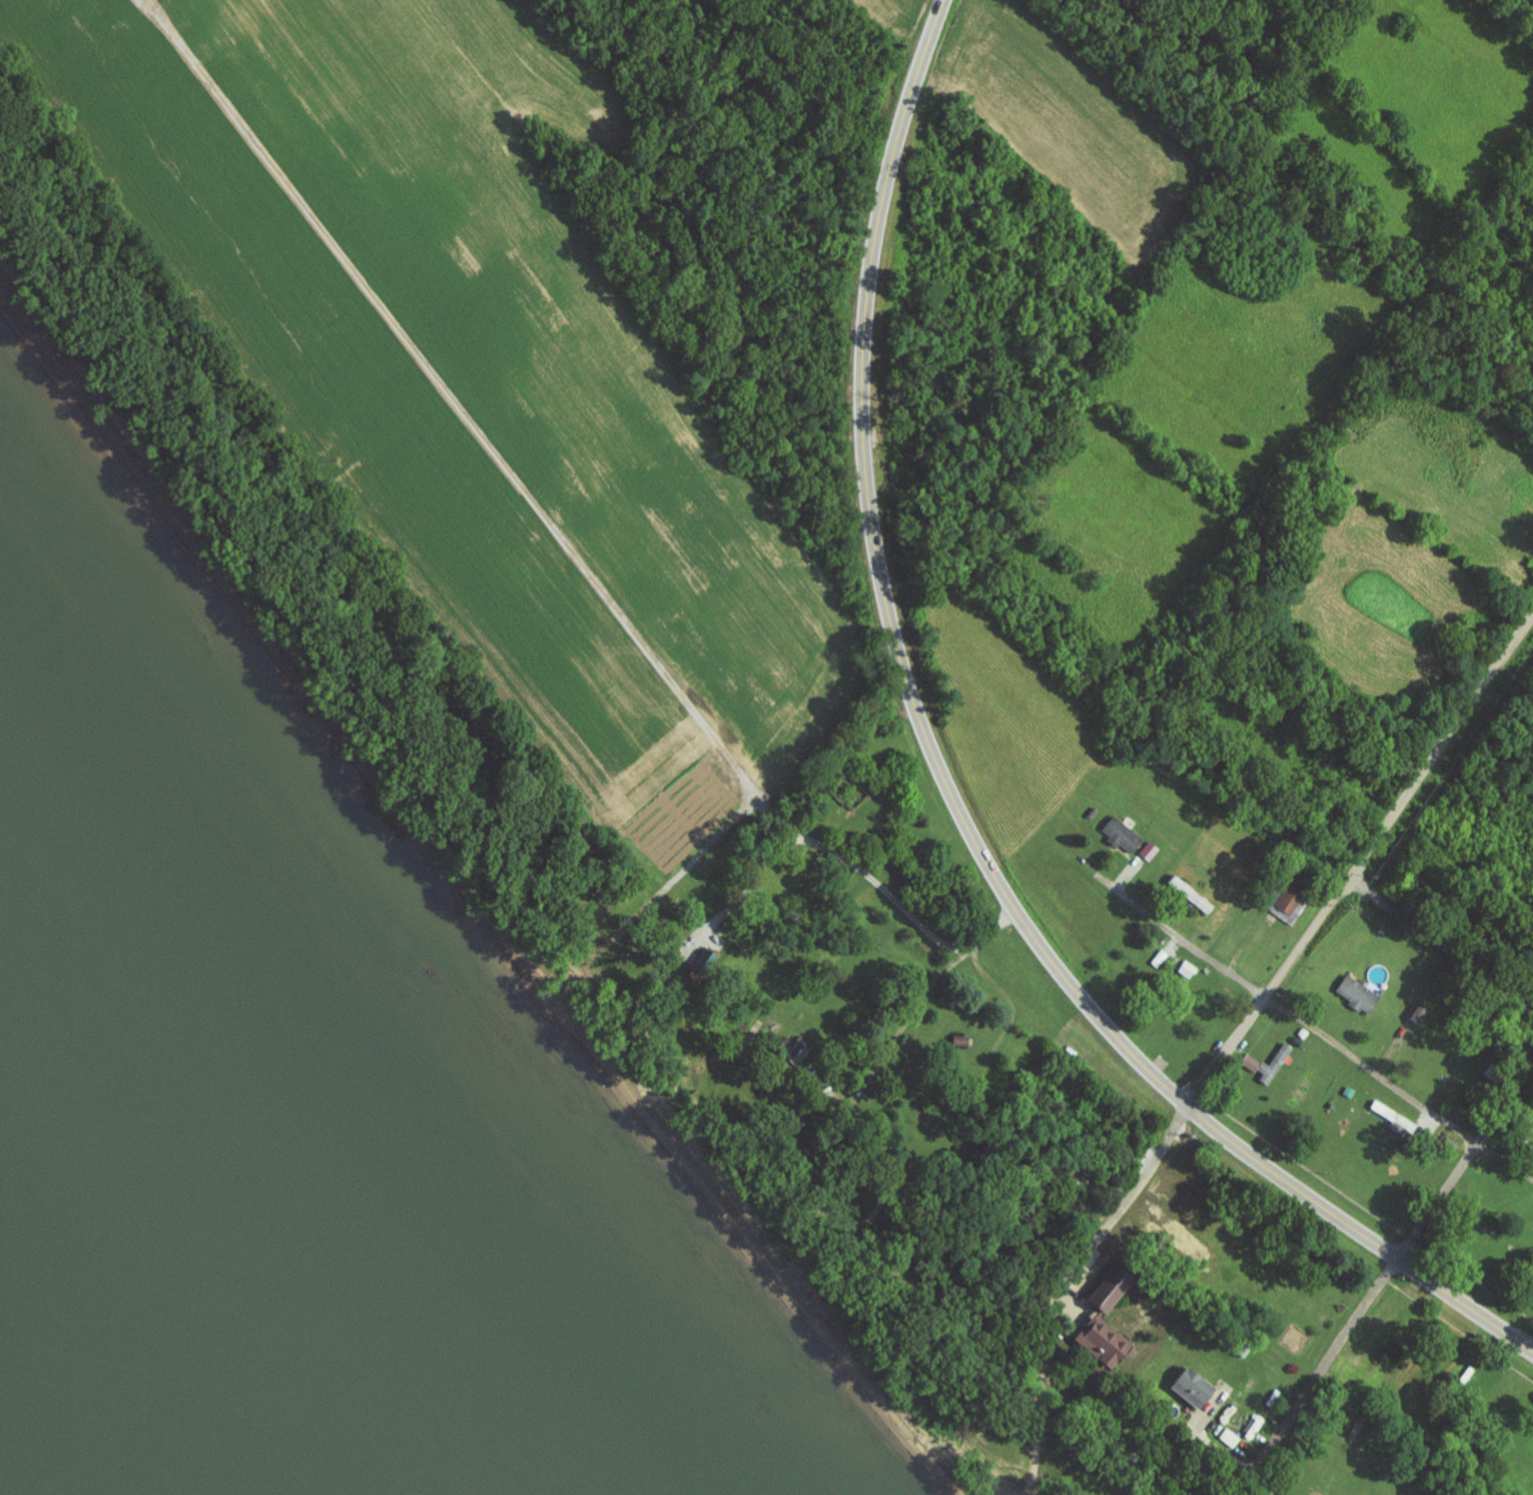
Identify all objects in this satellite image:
road: (863, 321)
crop: (465, 362)
building: (1118, 835)
road: (1361, 862)
road: (869, 884)
building: (1186, 894)
building: (1281, 898)
road: (1171, 935)
road: (1443, 946)
building: (1157, 958)
building: (1184, 969)
building: (1354, 994)
building: (1415, 1015)
building: (785, 1047)
building: (1247, 1062)
building: (1270, 1062)
road: (1141, 1064)
road: (1400, 1087)
building: (1389, 1116)
road: (1120, 1211)
road: (1392, 1268)
building: (1103, 1291)
river: (178, 1292)
building: (1096, 1342)
building: (1186, 1388)
road: (1042, 1404)
building: (1226, 1438)
road: (1182, 1441)
road: (1221, 1452)

